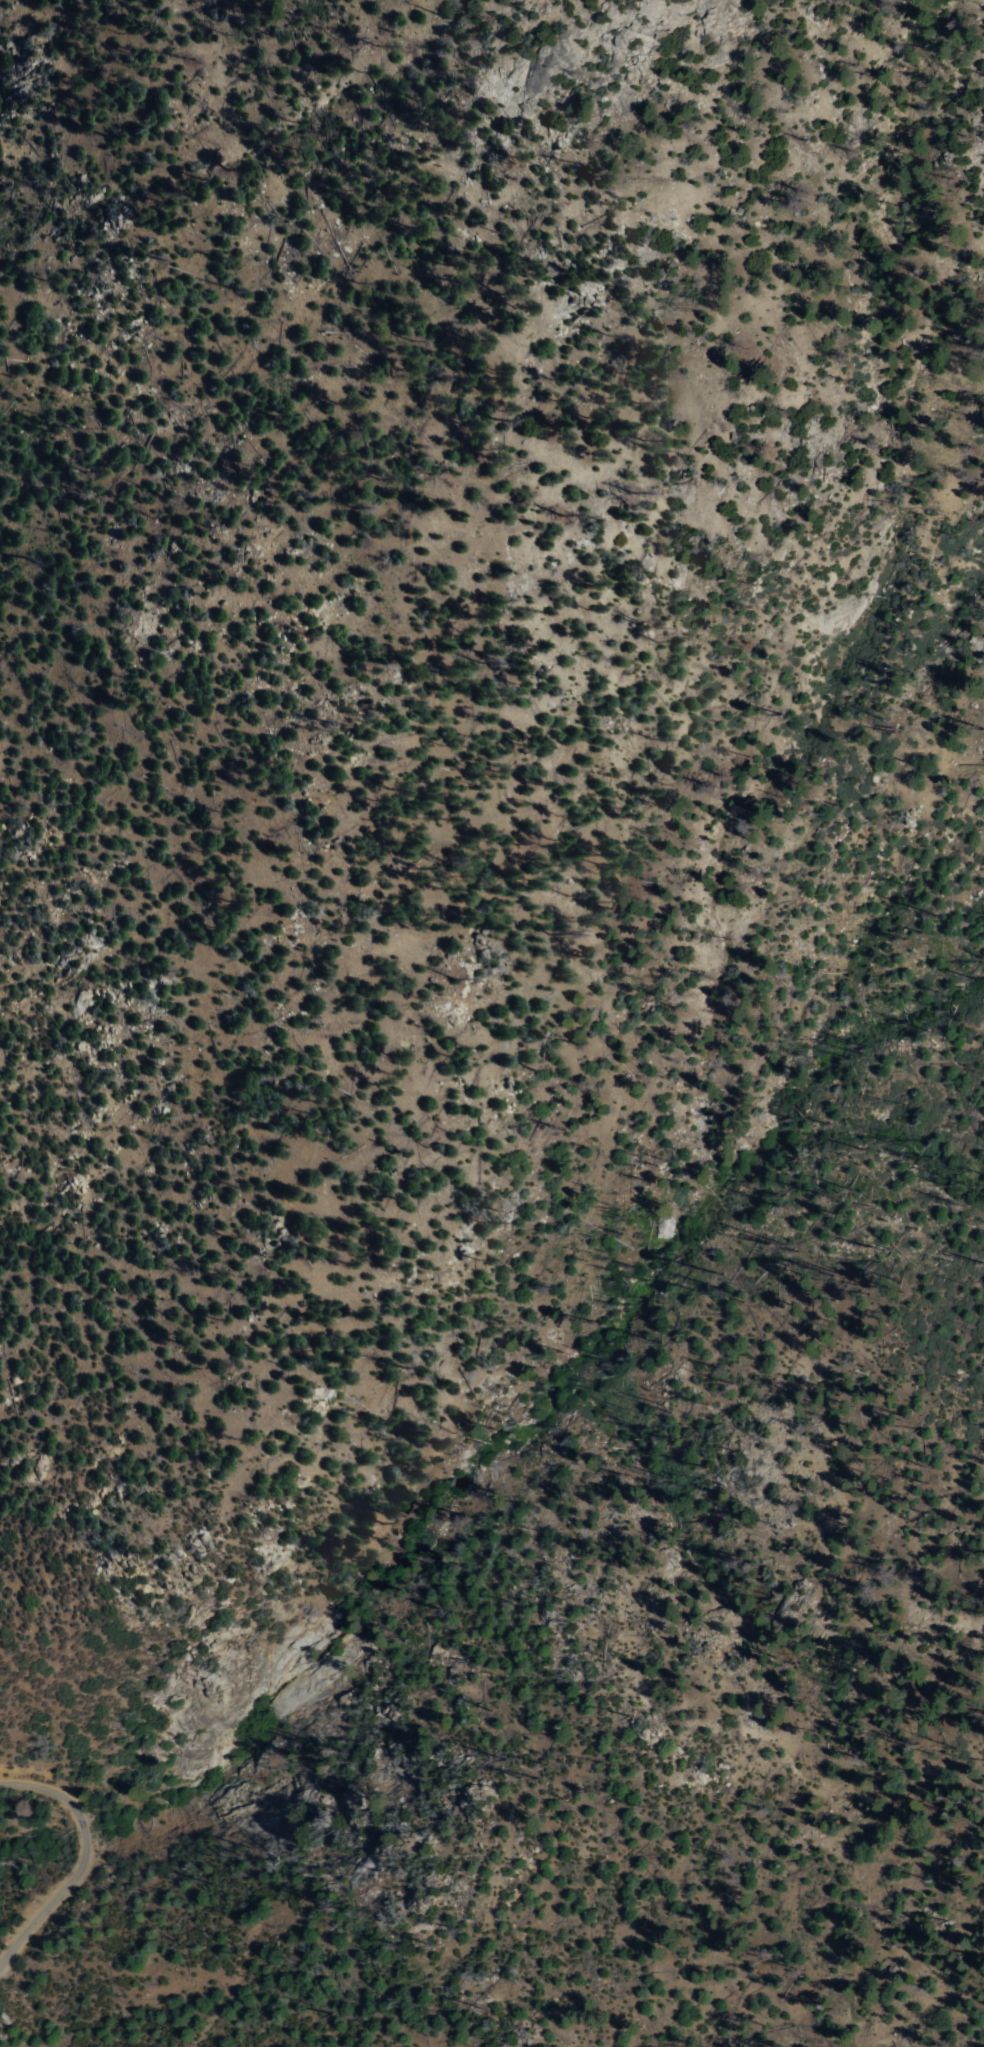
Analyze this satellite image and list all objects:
road: (82, 1862)

